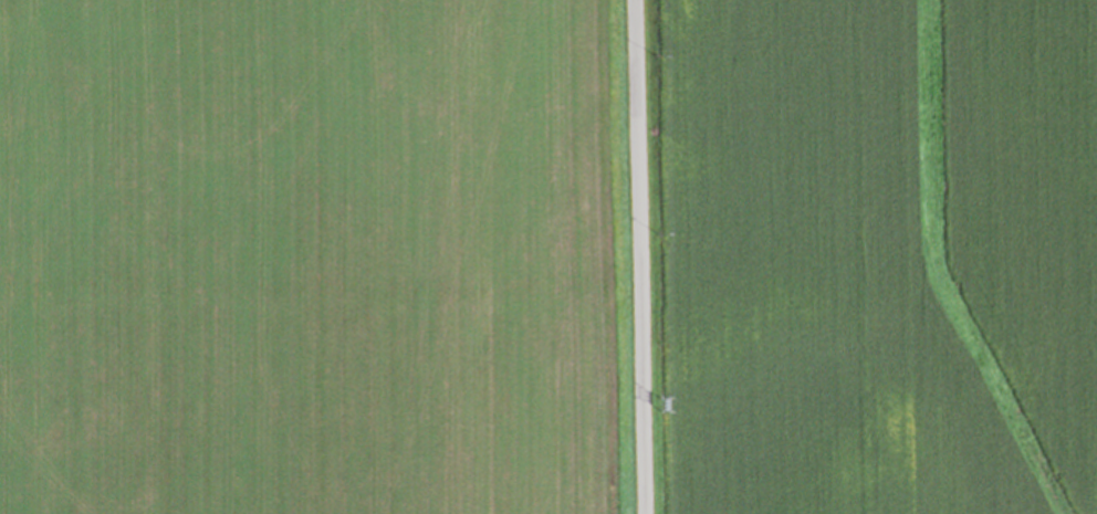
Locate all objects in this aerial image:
road: (639, 256)

